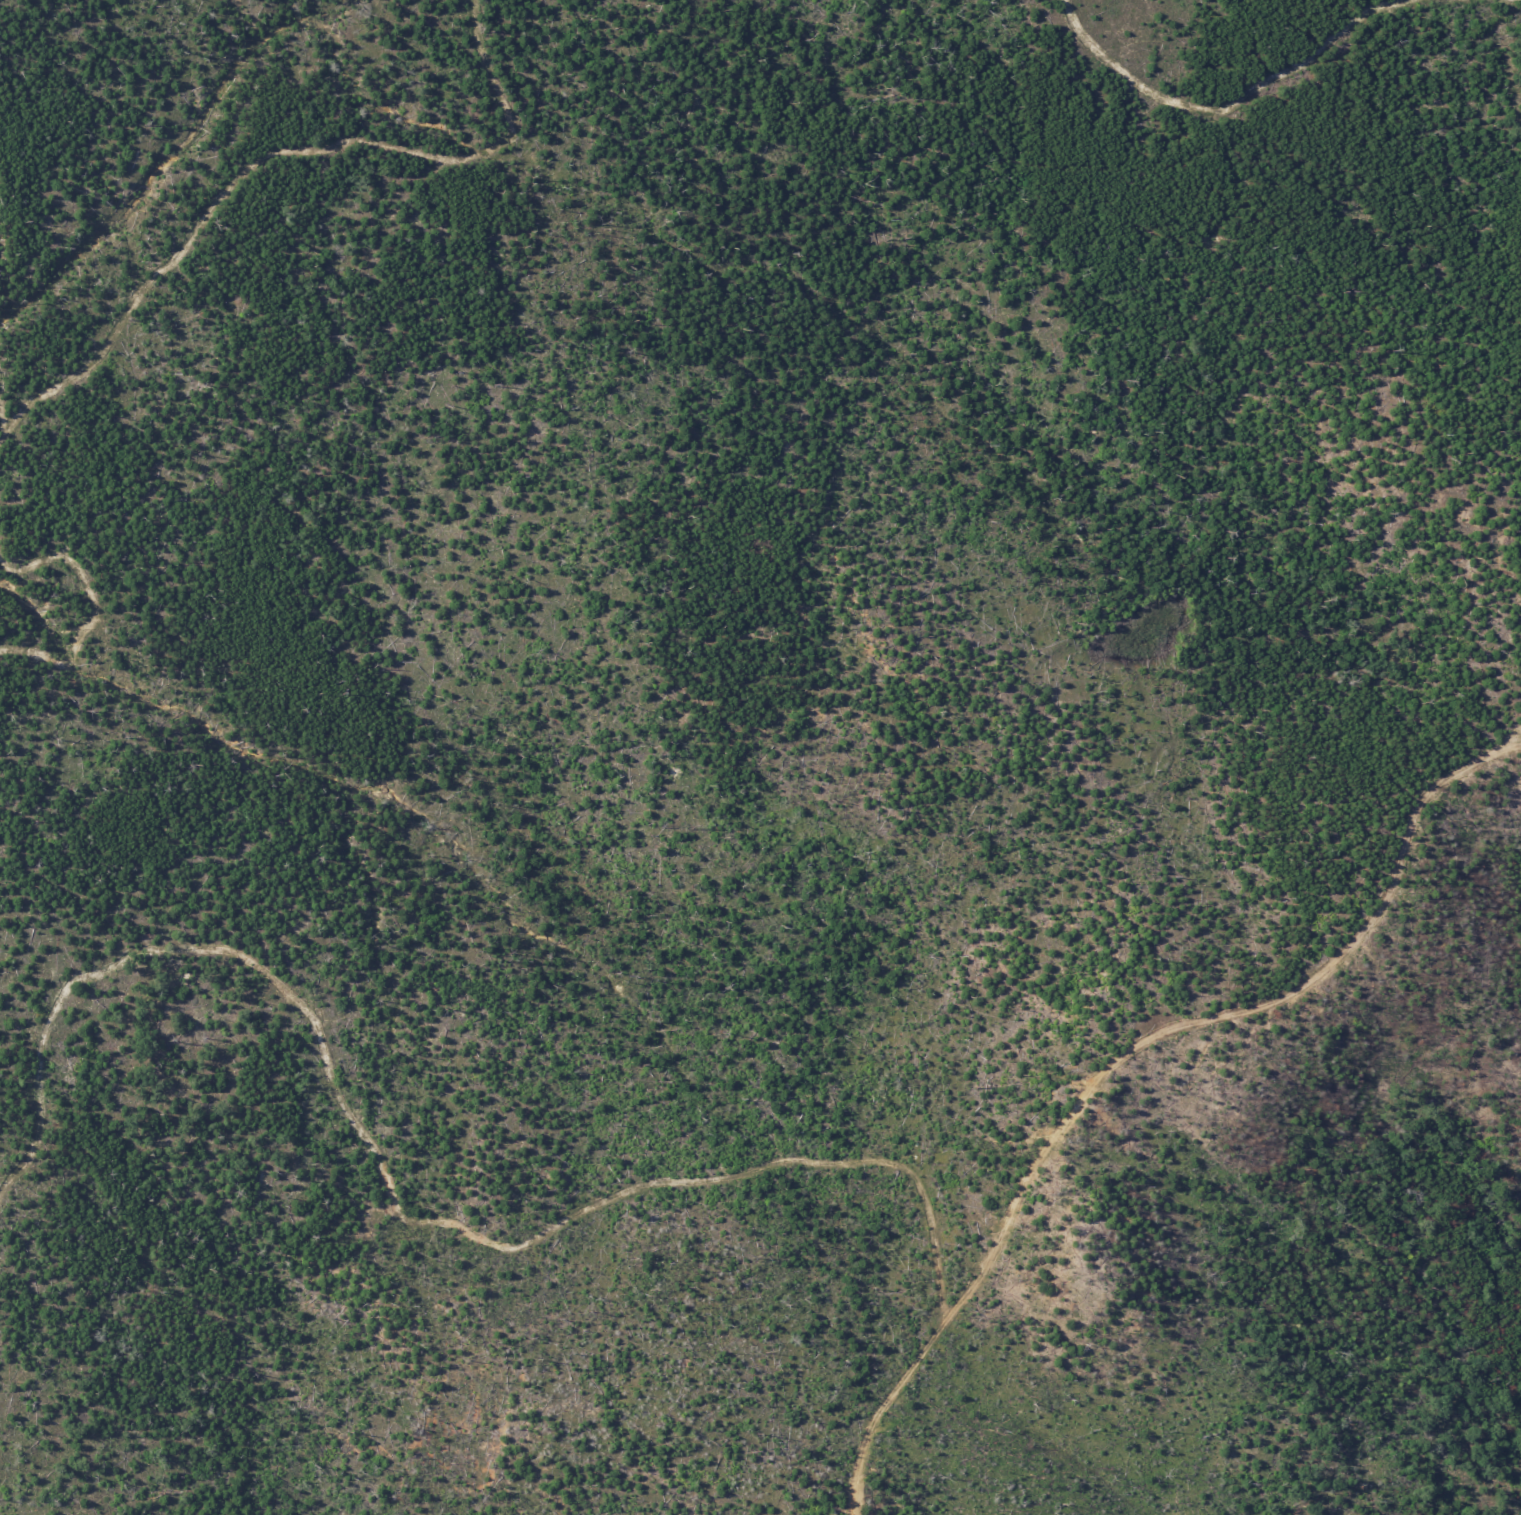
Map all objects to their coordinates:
park: (760, 757)

